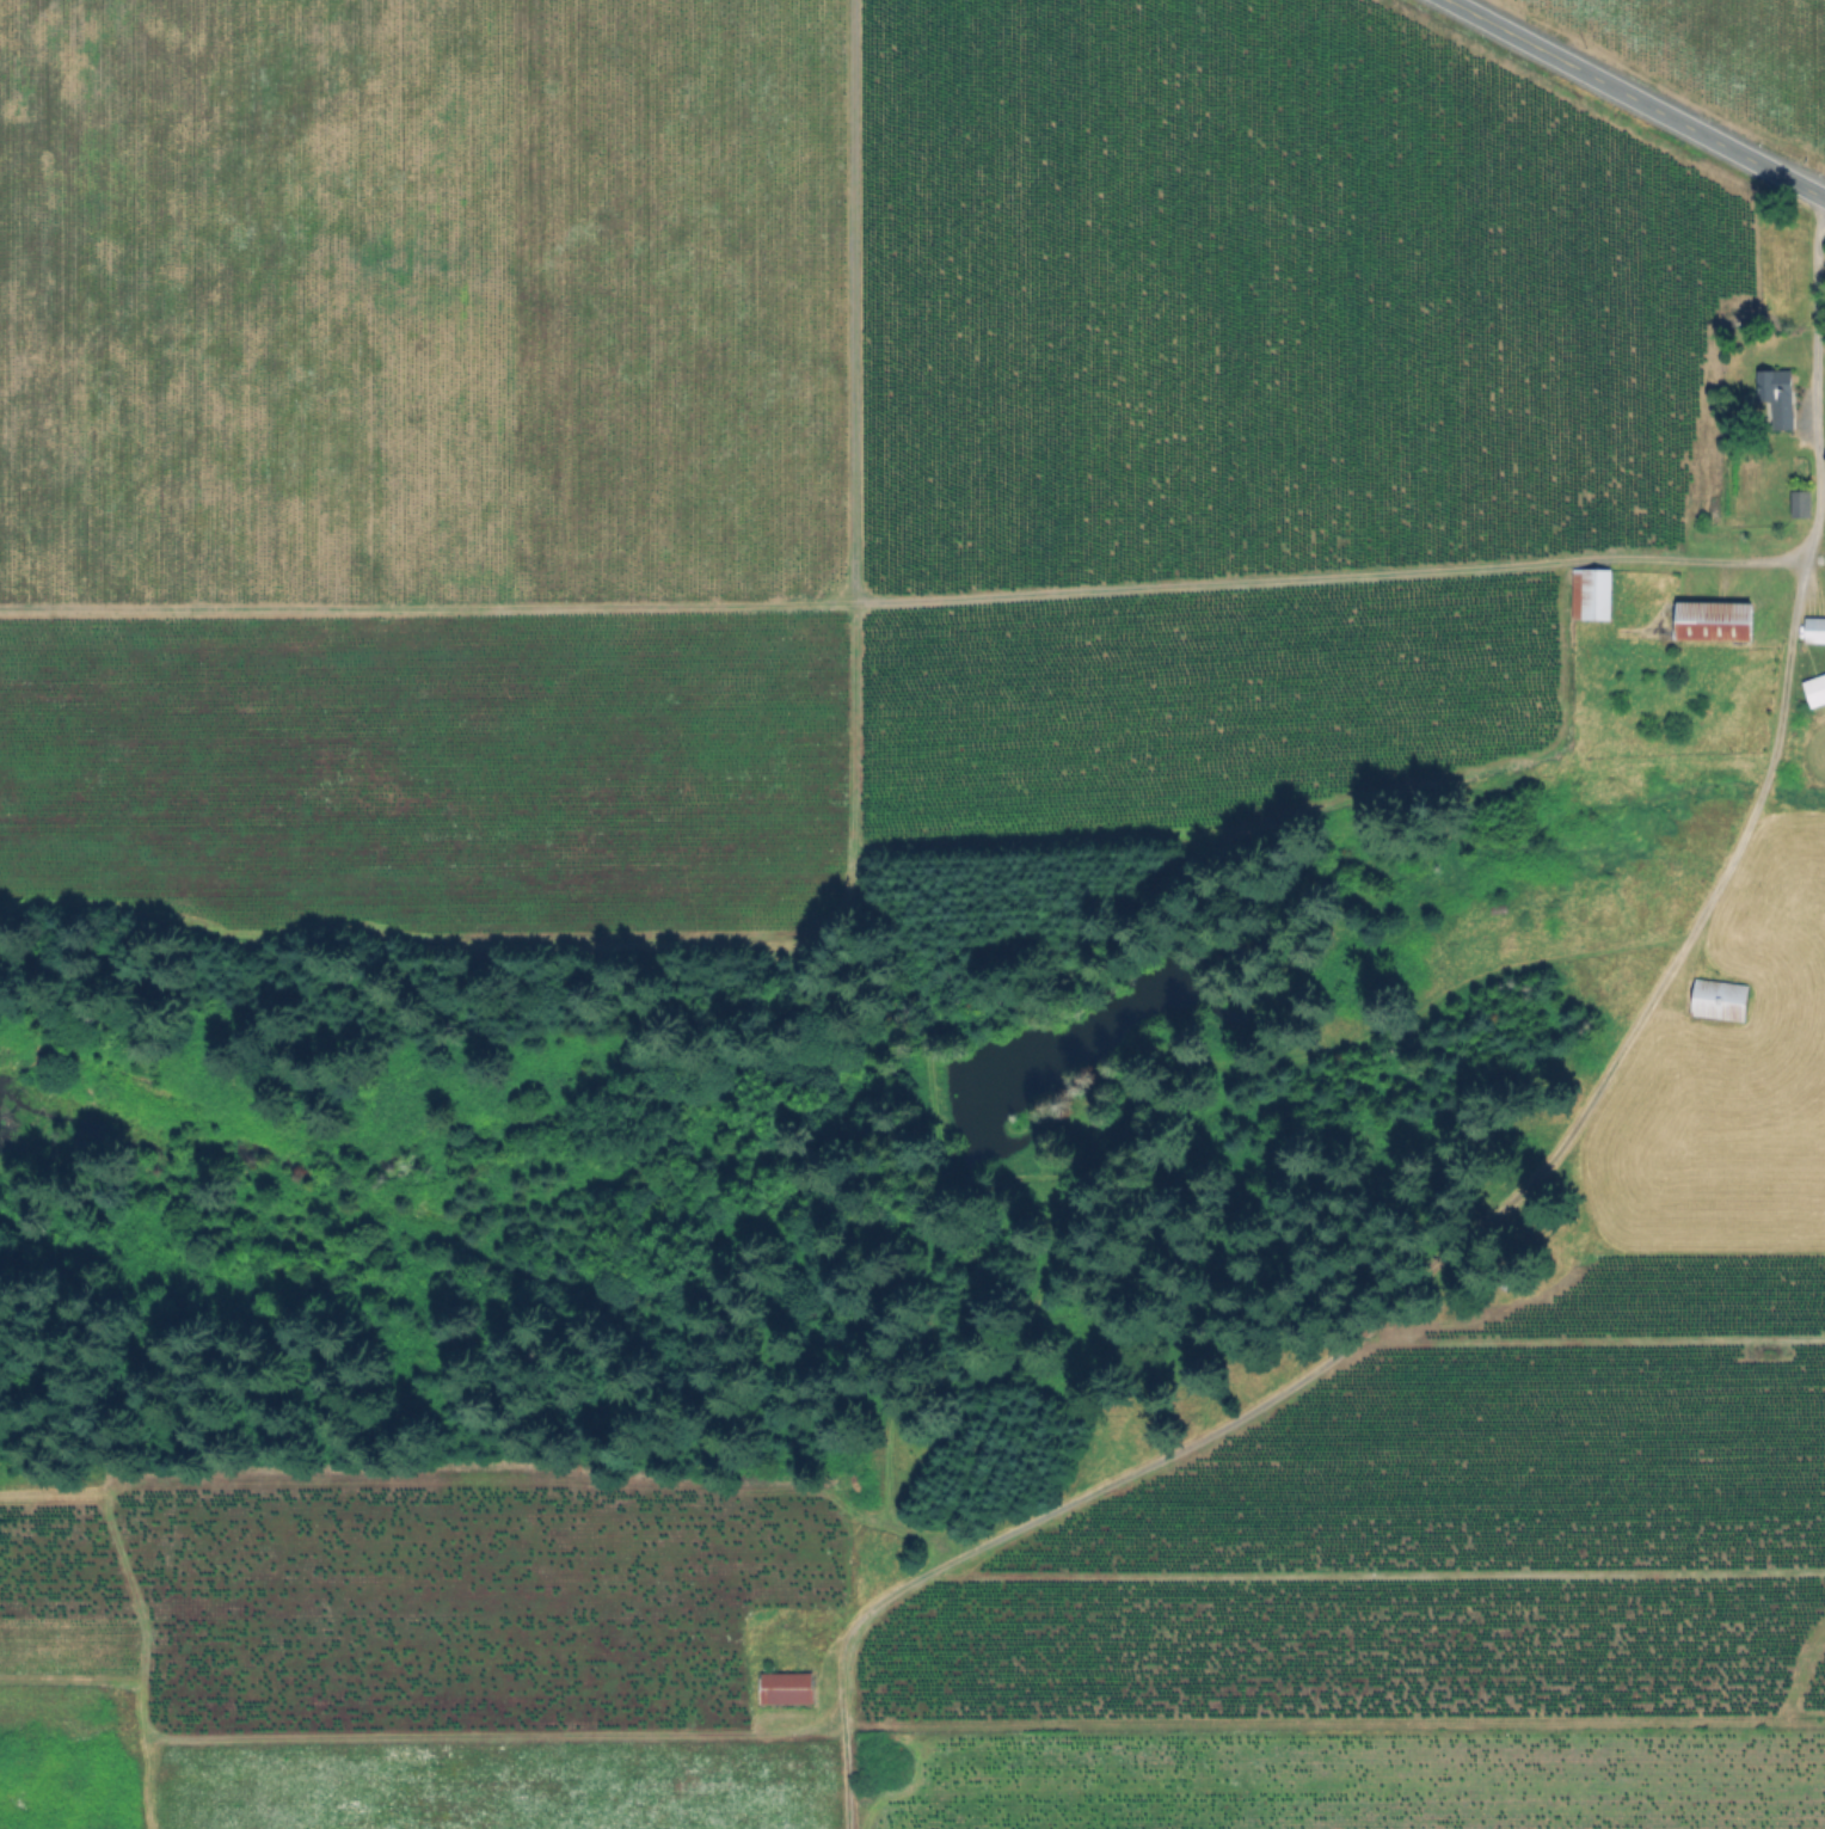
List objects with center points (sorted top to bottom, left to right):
road: (1635, 99)
road: (843, 299)
building: (1777, 391)
building: (1802, 503)
building: (1587, 591)
road: (904, 595)
building: (1704, 619)
building: (1814, 625)
building: (1812, 685)
building: (1720, 992)
road: (1541, 1171)
building: (784, 1682)

